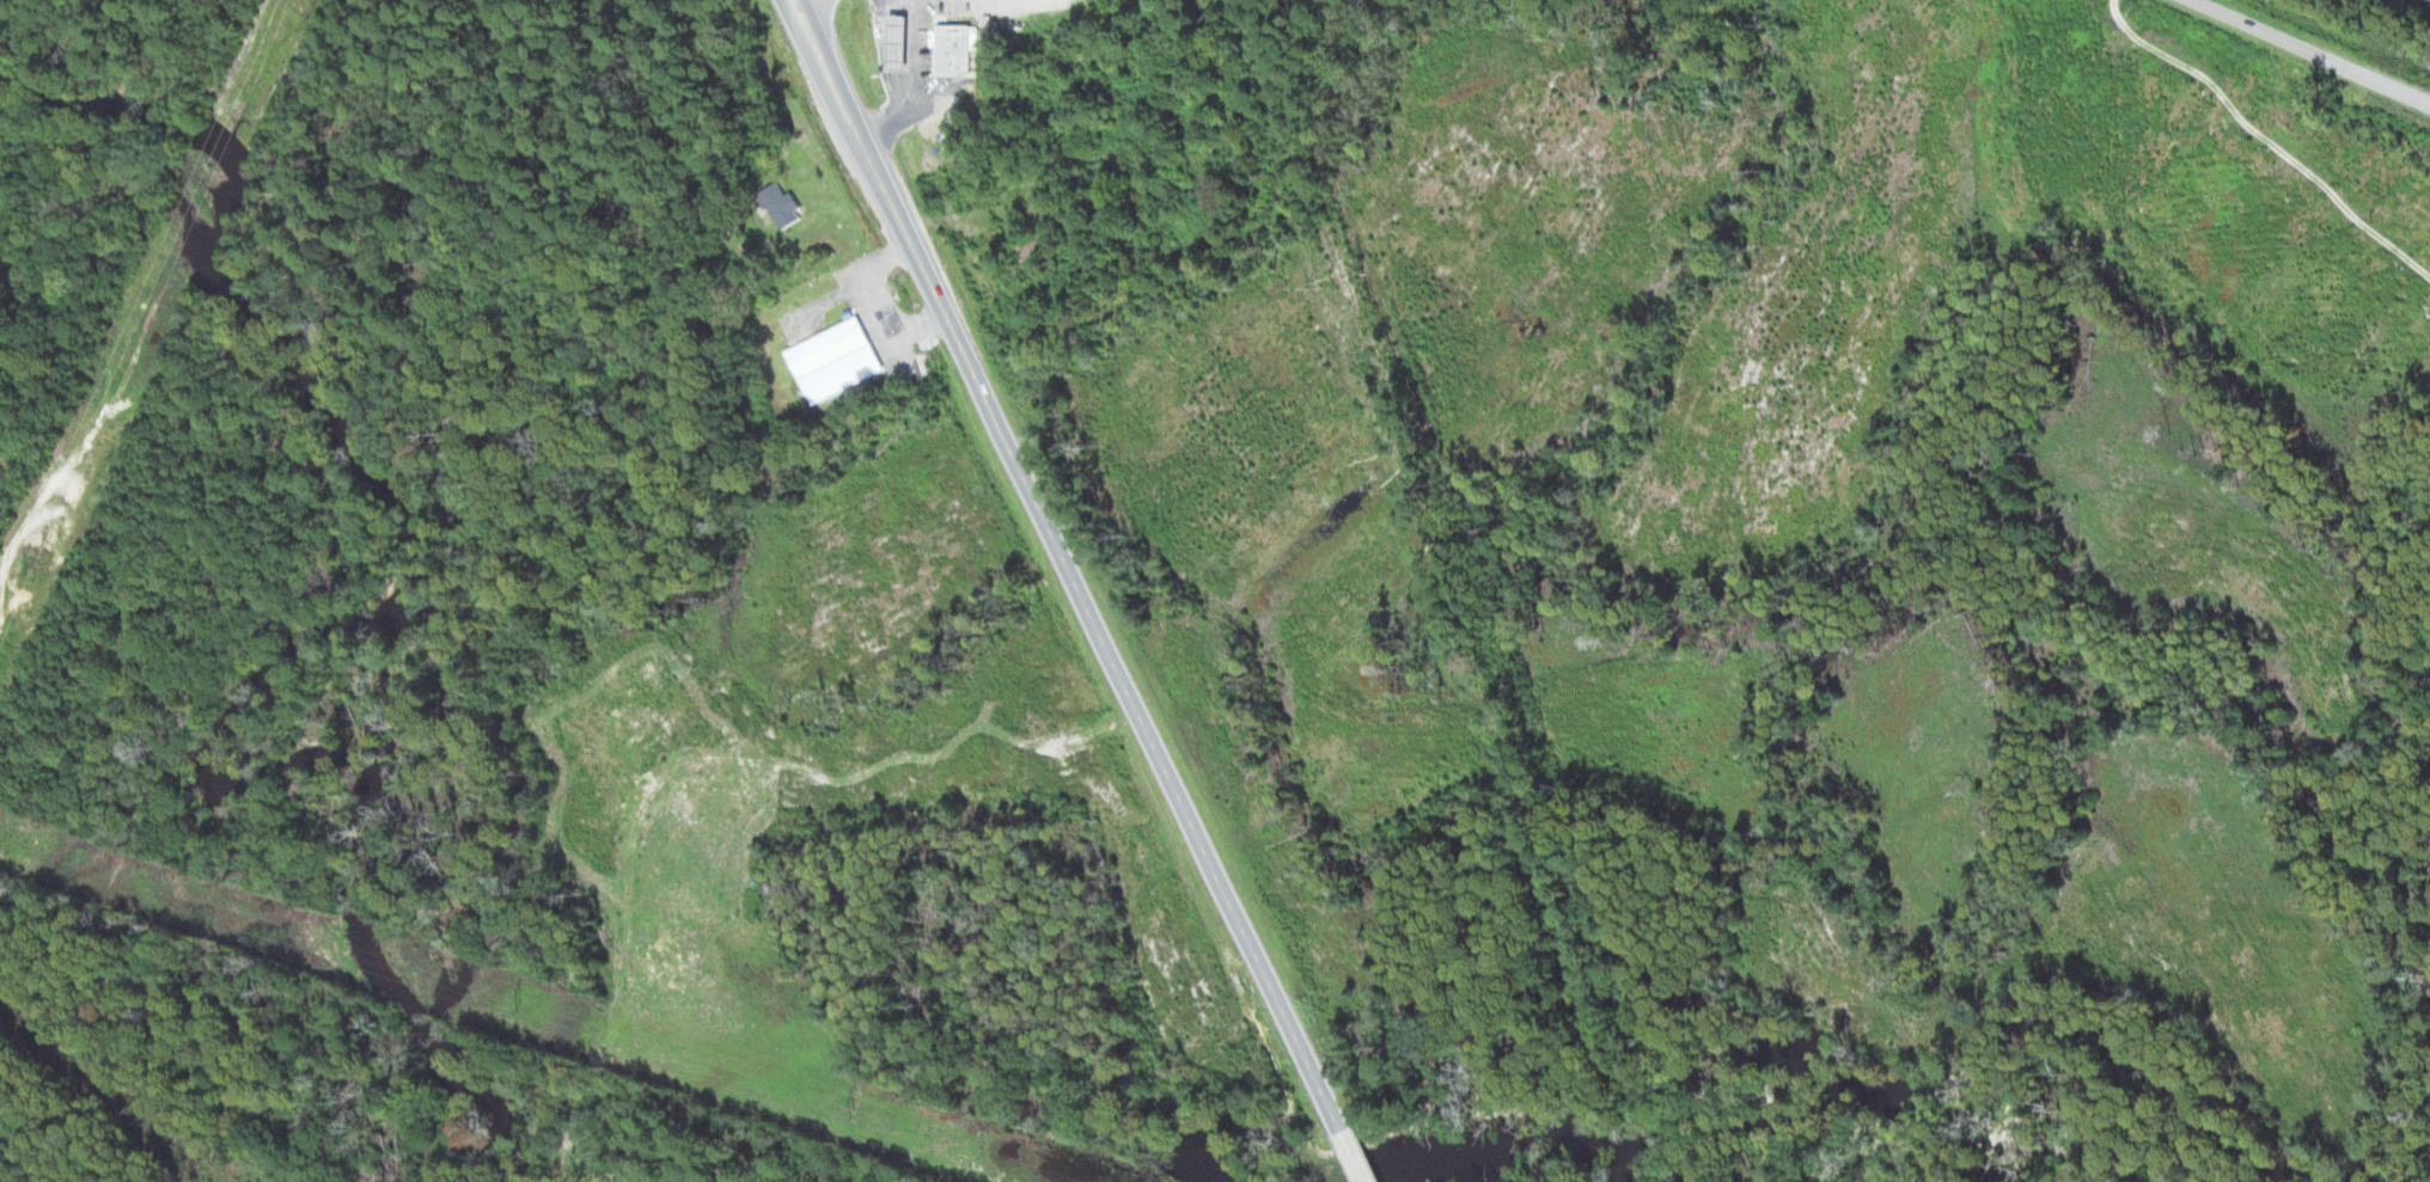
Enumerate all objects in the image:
building: (1073, 0)
building: (903, 47)
road: (2315, 47)
building: (958, 49)
building: (788, 204)
building: (841, 360)
road: (1068, 563)
power tower: (32, 570)
power tower: (523, 1006)
power tower: (854, 1113)
road: (1354, 1155)

